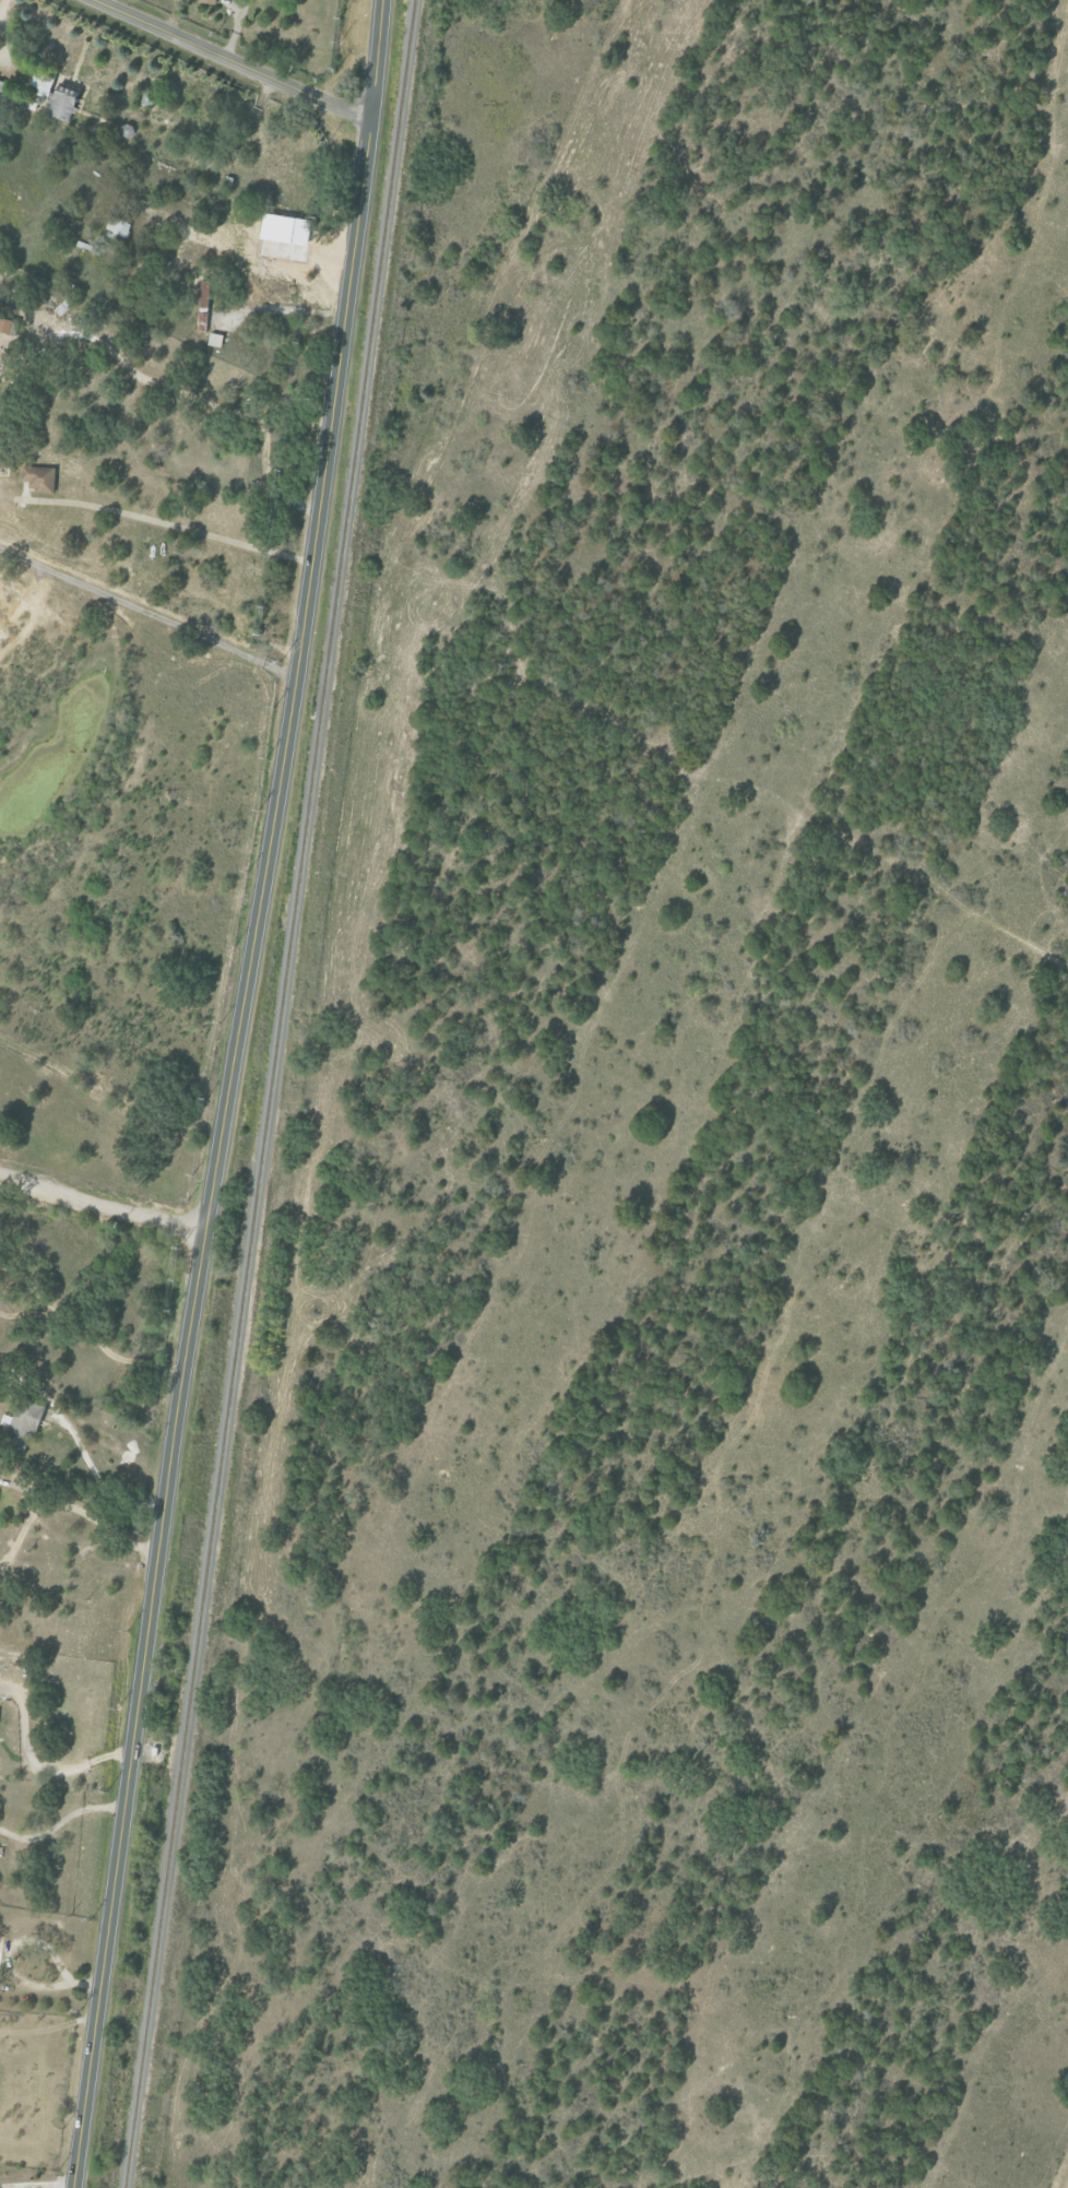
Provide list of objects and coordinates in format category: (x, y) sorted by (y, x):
building: (206, 1)
road: (4, 34)
road: (230, 60)
building: (38, 85)
building: (61, 103)
building: (118, 227)
road: (281, 308)
building: (3, 326)
building: (37, 477)
road: (165, 522)
road: (228, 1093)
railway: (269, 1093)
road: (102, 1211)
road: (28, 1289)
road: (28, 1314)
road: (114, 1356)
building: (26, 1418)
road: (69, 1505)
road: (41, 1767)
road: (59, 1819)
road: (10, 1963)
road: (36, 2185)

